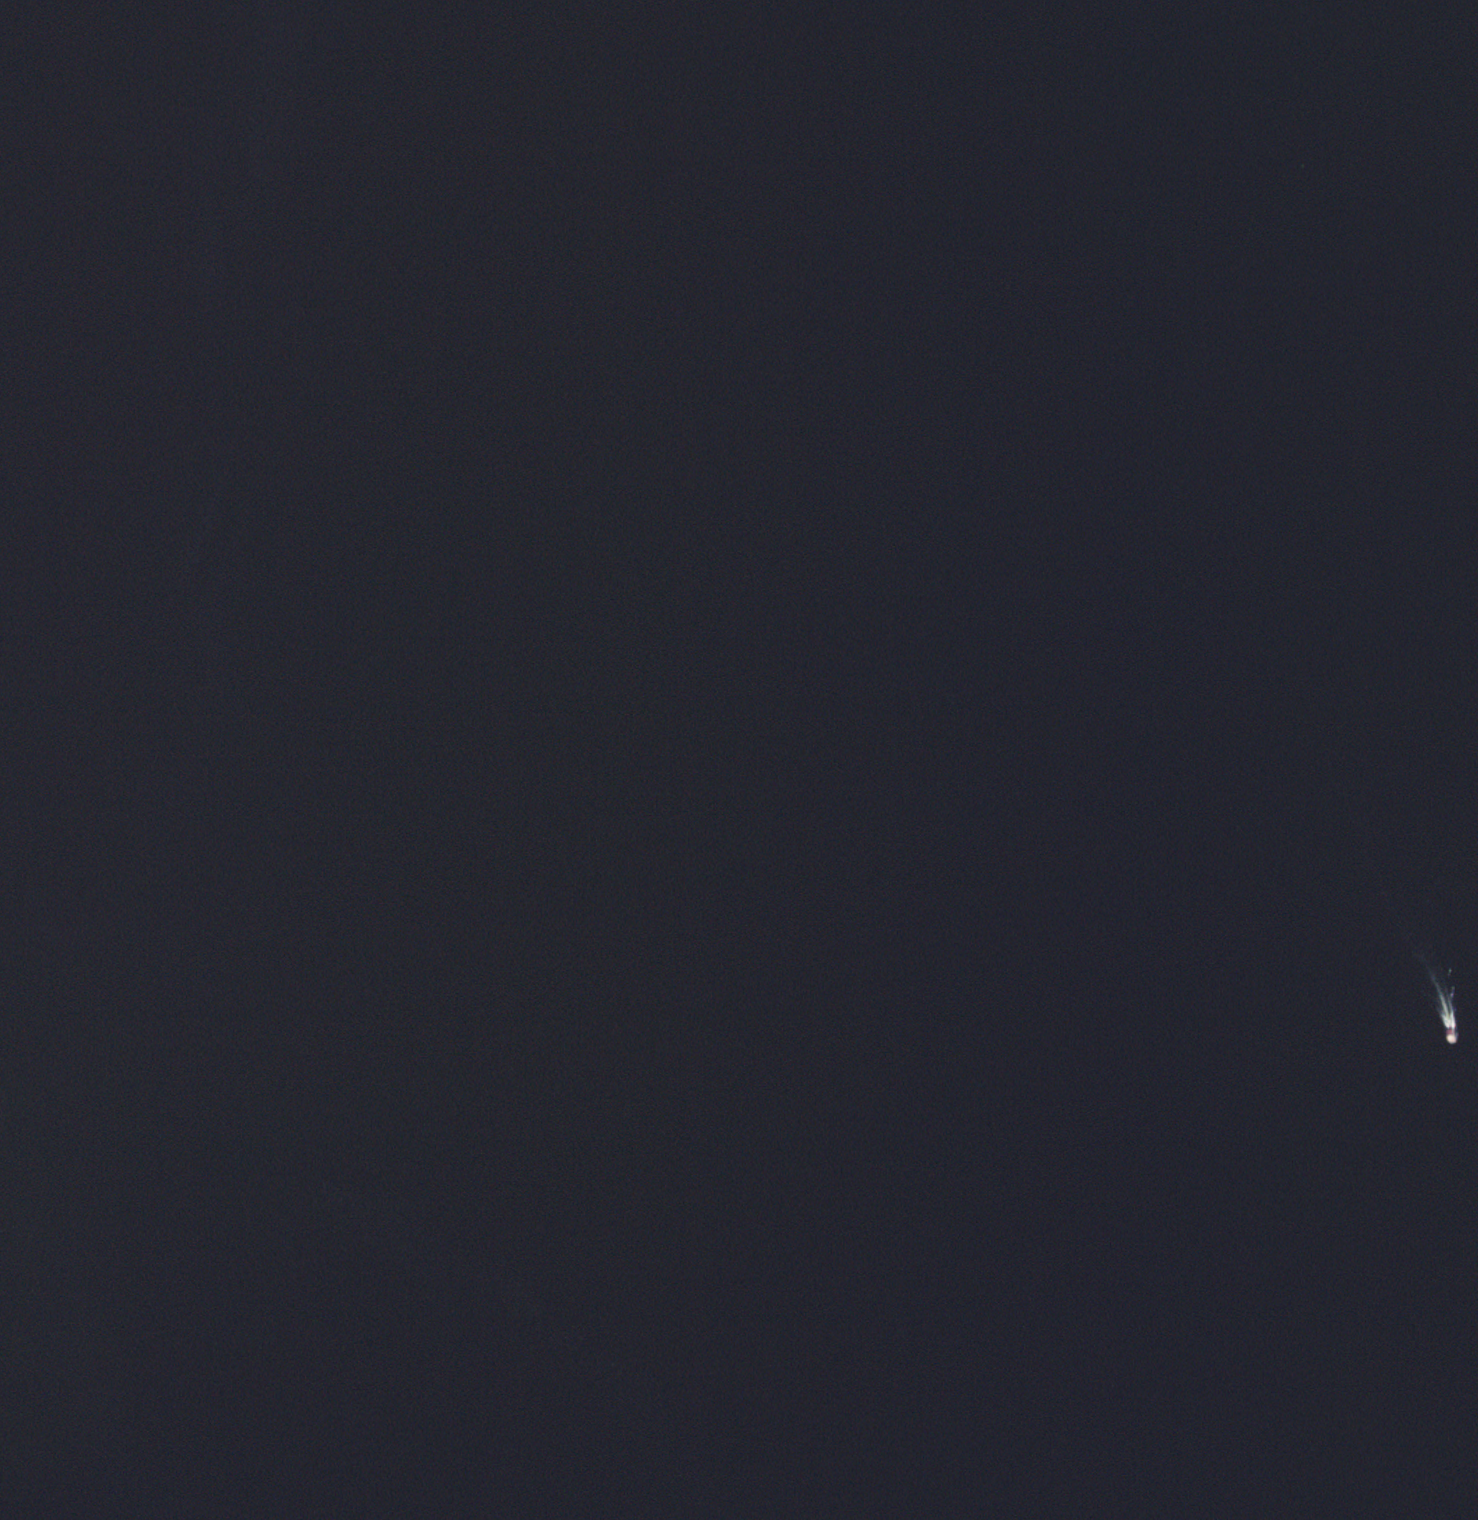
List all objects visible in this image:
river: (329, 575)

